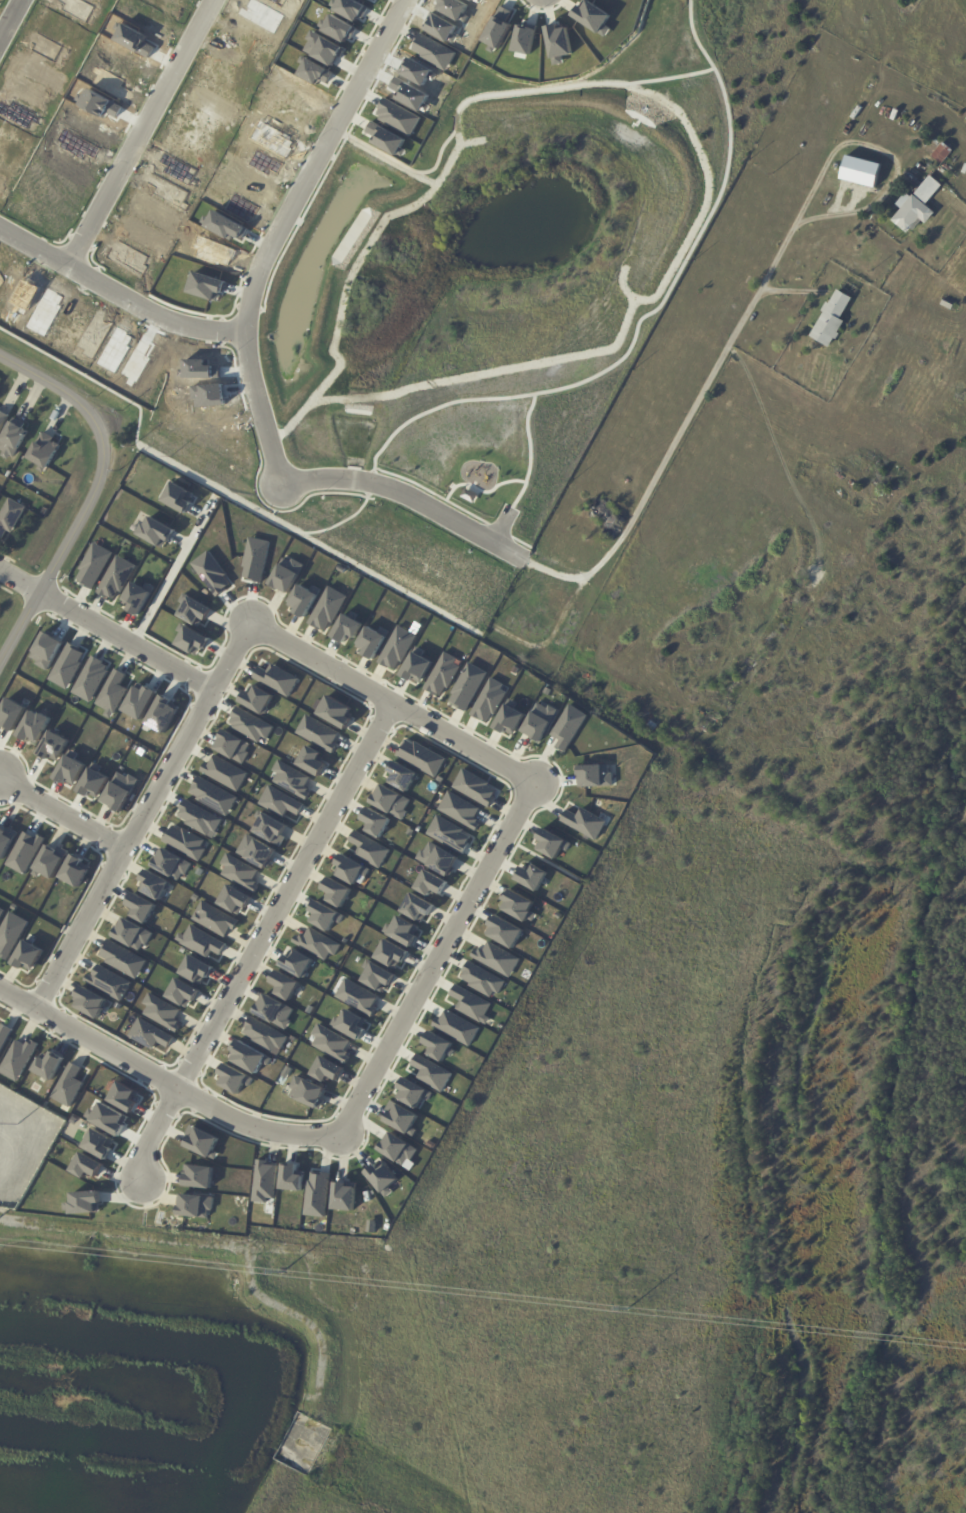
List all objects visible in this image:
building: (478, 1)
building: (350, 8)
building: (455, 9)
road: (544, 11)
building: (262, 15)
building: (595, 17)
road: (11, 21)
building: (338, 28)
building: (442, 28)
building: (499, 29)
building: (525, 38)
building: (133, 39)
building: (560, 43)
building: (323, 48)
road: (362, 49)
building: (435, 52)
building: (418, 71)
building: (315, 72)
road: (670, 77)
road: (495, 95)
building: (98, 104)
building: (399, 117)
road: (142, 133)
building: (272, 139)
building: (387, 139)
building: (944, 153)
road: (335, 159)
road: (386, 160)
road: (415, 170)
building: (965, 171)
building: (913, 177)
building: (168, 191)
building: (918, 206)
building: (242, 208)
building: (226, 226)
road: (282, 232)
building: (214, 251)
building: (207, 286)
road: (792, 291)
building: (27, 294)
road: (119, 294)
building: (947, 305)
building: (45, 312)
road: (643, 317)
building: (833, 320)
building: (137, 363)
building: (200, 369)
road: (489, 371)
building: (209, 395)
building: (432, 413)
building: (2, 419)
building: (532, 427)
building: (12, 439)
building: (44, 450)
road: (530, 452)
building: (510, 456)
park: (482, 486)
road: (369, 491)
road: (482, 491)
road: (95, 494)
road: (410, 496)
road: (438, 496)
building: (178, 497)
road: (292, 510)
building: (10, 517)
building: (609, 520)
road: (502, 525)
building: (156, 532)
road: (621, 537)
road: (516, 539)
building: (255, 559)
building: (93, 566)
road: (173, 571)
building: (212, 573)
building: (286, 575)
building: (116, 578)
building: (137, 597)
building: (303, 599)
building: (327, 609)
building: (194, 611)
building: (346, 628)
road: (106, 630)
building: (191, 640)
building: (371, 641)
building: (396, 648)
building: (46, 650)
building: (67, 665)
building: (417, 666)
building: (442, 675)
building: (91, 679)
building: (277, 679)
building: (467, 686)
building: (112, 693)
building: (489, 700)
building: (139, 701)
building: (258, 705)
building: (334, 711)
building: (11, 714)
building: (162, 714)
building: (509, 718)
building: (539, 721)
building: (652, 724)
building: (34, 726)
building: (568, 727)
building: (253, 729)
building: (318, 733)
building: (53, 746)
building: (233, 752)
building: (421, 757)
building: (311, 761)
building: (70, 770)
building: (594, 775)
building: (401, 776)
building: (225, 777)
building: (291, 779)
building: (93, 783)
building: (475, 788)
building: (119, 791)
building: (213, 800)
building: (391, 801)
building: (280, 802)
building: (459, 810)
road: (62, 813)
road: (143, 814)
road: (515, 814)
building: (199, 818)
building: (375, 822)
building: (584, 822)
building: (270, 829)
building: (449, 834)
building: (5, 841)
building: (185, 842)
building: (550, 843)
building: (369, 849)
building: (256, 851)
building: (24, 852)
building: (437, 858)
building: (51, 861)
building: (170, 864)
building: (350, 869)
building: (75, 871)
building: (240, 872)
building: (530, 876)
building: (430, 883)
building: (153, 884)
building: (336, 892)
building: (234, 900)
building: (517, 905)
building: (141, 907)
building: (417, 907)
building: (0, 909)
building: (325, 916)
building: (214, 919)
building: (401, 931)
building: (503, 931)
building: (131, 933)
building: (11, 934)
road: (258, 938)
building: (201, 941)
building: (317, 943)
building: (390, 954)
building: (28, 955)
building: (122, 958)
building: (496, 959)
building: (297, 962)
building: (195, 969)
building: (376, 976)
building: (481, 979)
building: (109, 982)
building: (284, 985)
building: (182, 993)
building: (357, 997)
building: (90, 1001)
building: (471, 1004)
building: (274, 1011)
building: (161, 1012)
building: (350, 1024)
building: (456, 1027)
building: (150, 1034)
building: (264, 1034)
building: (4, 1035)
building: (331, 1043)
building: (438, 1047)
building: (248, 1057)
building: (18, 1059)
building: (48, 1065)
building: (326, 1069)
building: (431, 1073)
building: (233, 1079)
road: (165, 1083)
building: (68, 1085)
building: (307, 1092)
building: (412, 1093)
building: (123, 1097)
building: (400, 1117)
building: (109, 1119)
power tower: (16, 1123)
building: (201, 1141)
power substation: (23, 1142)
building: (98, 1143)
building: (397, 1149)
building: (86, 1166)
building: (198, 1176)
building: (291, 1178)
building: (382, 1178)
building: (264, 1181)
building: (317, 1194)
building: (344, 1196)
building: (83, 1202)
building: (195, 1206)
power tower: (280, 1271)
power tower: (630, 1311)

